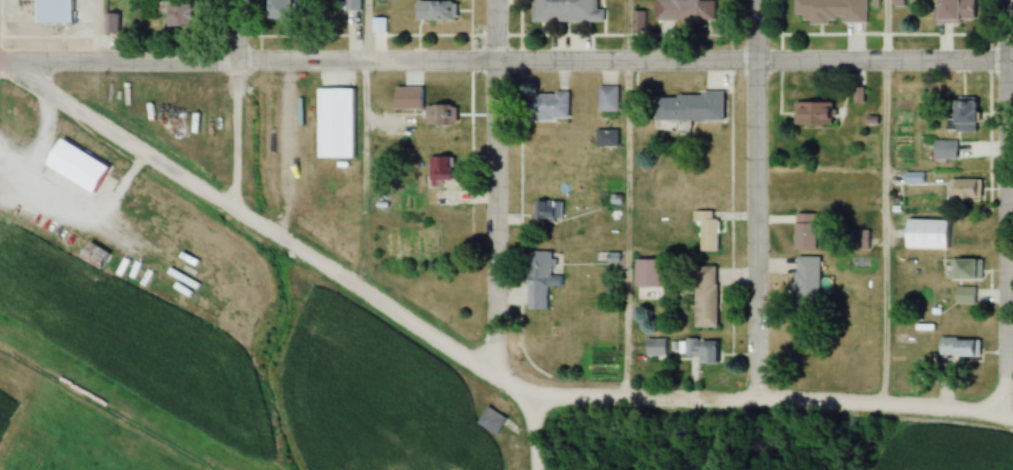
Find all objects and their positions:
building: (351, 5)
building: (278, 9)
building: (683, 9)
building: (433, 11)
building: (564, 11)
building: (829, 11)
building: (50, 12)
building: (953, 12)
building: (176, 15)
building: (110, 24)
building: (379, 26)
road: (100, 30)
road: (756, 30)
road: (235, 31)
road: (503, 62)
road: (1009, 76)
building: (607, 99)
building: (547, 106)
building: (687, 108)
building: (810, 114)
building: (377, 115)
building: (960, 115)
building: (340, 119)
road: (235, 137)
building: (605, 137)
road: (363, 145)
building: (942, 150)
building: (83, 161)
building: (440, 171)
road: (496, 186)
building: (964, 189)
building: (444, 199)
road: (627, 200)
road: (885, 202)
road: (1005, 209)
building: (547, 212)
building: (706, 230)
road: (756, 231)
building: (803, 233)
building: (924, 234)
building: (859, 240)
building: (965, 270)
building: (646, 274)
building: (537, 281)
building: (805, 284)
building: (963, 296)
building: (704, 297)
building: (655, 349)
building: (958, 349)
building: (696, 350)
road: (469, 359)
building: (489, 421)
road: (532, 434)

